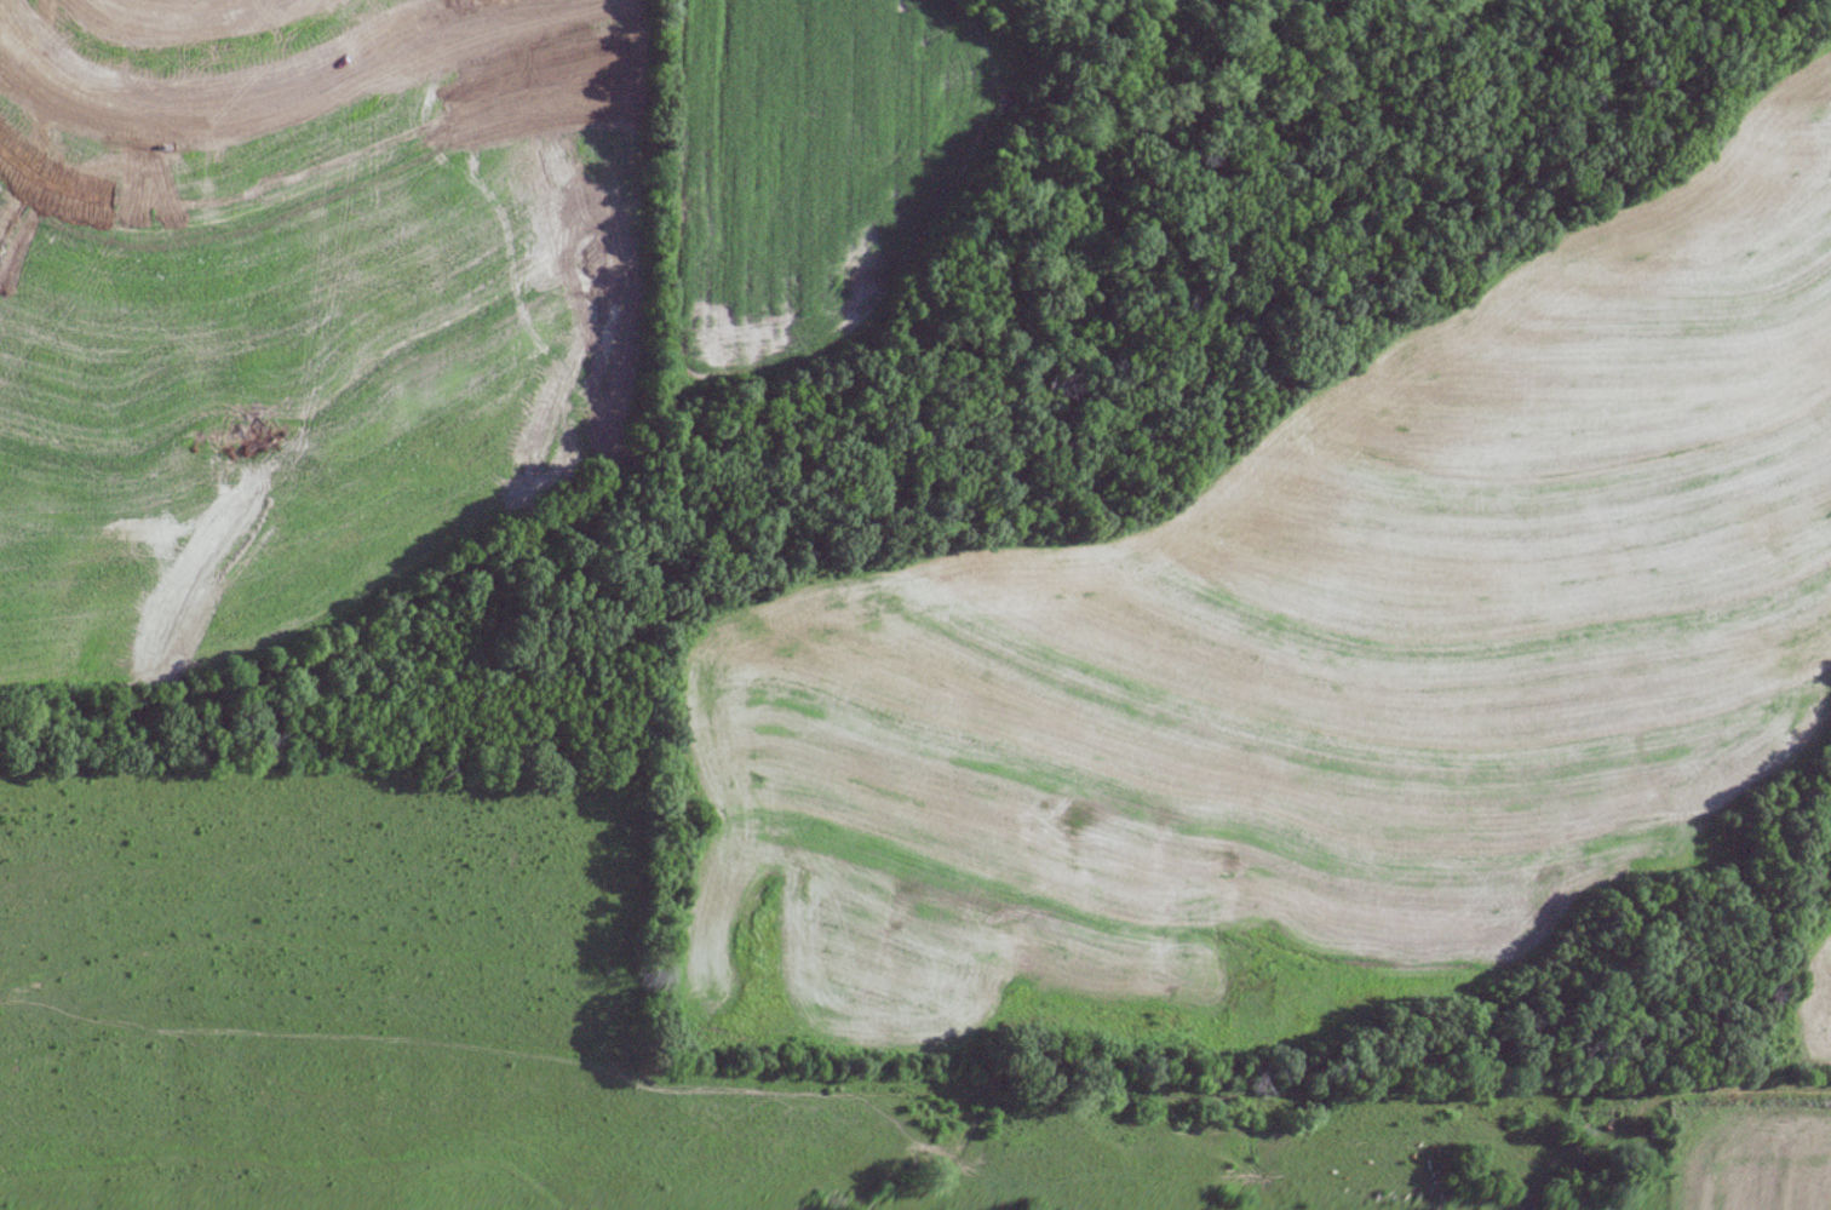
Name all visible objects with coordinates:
road: (1718, 1082)

